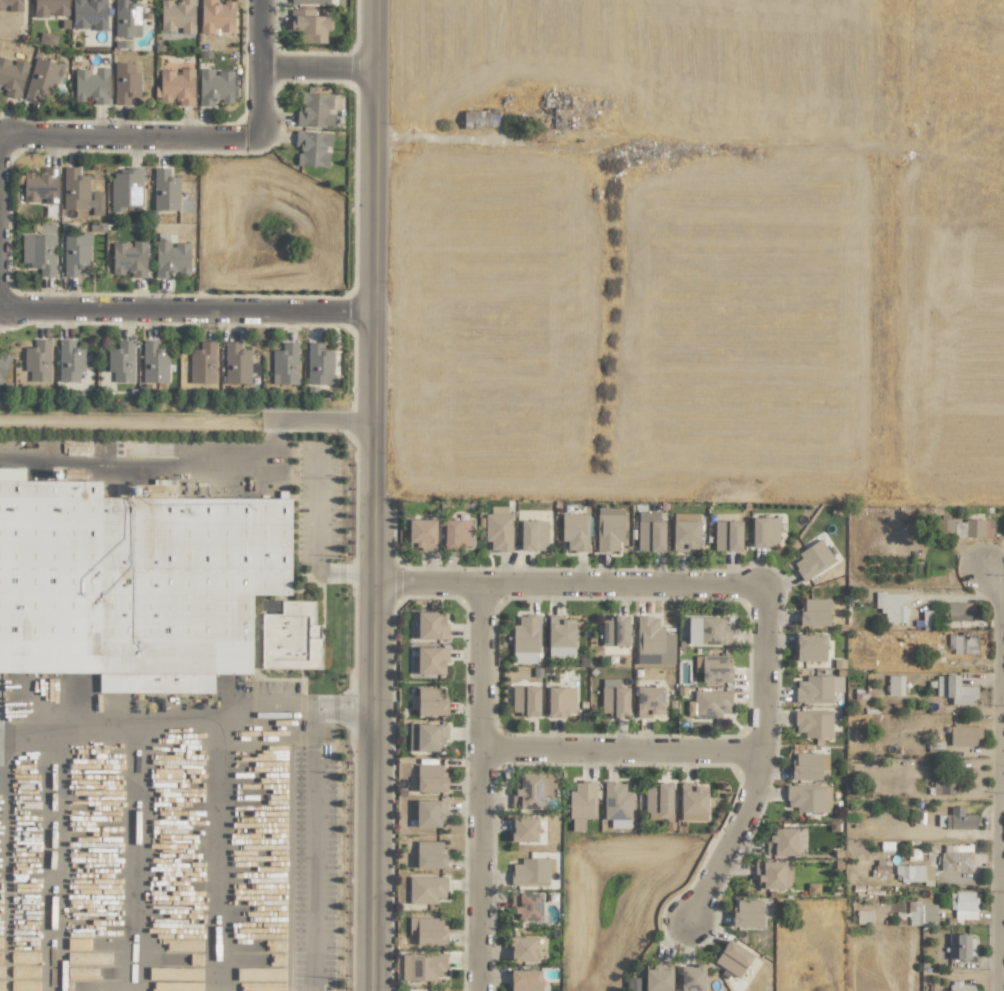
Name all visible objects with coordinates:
building: (11, 5)
building: (50, 8)
building: (89, 14)
building: (177, 15)
building: (216, 16)
building: (126, 19)
building: (309, 25)
building: (47, 39)
road: (261, 63)
road: (318, 70)
building: (12, 76)
building: (42, 79)
building: (126, 82)
building: (91, 85)
building: (215, 86)
building: (176, 87)
building: (315, 110)
building: (478, 119)
road: (128, 135)
building: (312, 148)
building: (40, 185)
building: (126, 188)
building: (164, 190)
building: (80, 192)
building: (39, 253)
building: (76, 253)
building: (129, 258)
building: (170, 259)
road: (183, 308)
building: (37, 360)
building: (69, 360)
building: (121, 362)
building: (154, 362)
building: (202, 363)
building: (236, 363)
building: (284, 364)
building: (3, 365)
building: (319, 365)
road: (315, 419)
road: (147, 466)
road: (368, 495)
road: (317, 502)
building: (949, 527)
building: (978, 528)
building: (498, 529)
building: (609, 529)
building: (574, 531)
building: (650, 531)
building: (764, 531)
building: (422, 533)
building: (457, 533)
building: (532, 535)
building: (727, 535)
building: (685, 536)
building: (811, 560)
road: (354, 572)
building: (134, 581)
road: (565, 586)
building: (892, 607)
building: (958, 611)
building: (814, 613)
building: (927, 617)
building: (430, 626)
building: (614, 631)
building: (707, 631)
building: (291, 637)
building: (560, 638)
building: (525, 640)
building: (653, 641)
building: (962, 644)
building: (810, 647)
building: (430, 660)
road: (766, 668)
building: (894, 685)
building: (817, 689)
building: (954, 690)
building: (525, 700)
building: (560, 701)
building: (614, 701)
building: (648, 701)
building: (431, 702)
building: (709, 705)
road: (192, 713)
road: (349, 713)
building: (813, 723)
building: (426, 736)
building: (964, 736)
road: (623, 750)
building: (808, 766)
road: (999, 767)
building: (430, 778)
building: (943, 787)
road: (482, 788)
building: (532, 790)
building: (658, 798)
building: (808, 798)
building: (582, 801)
building: (692, 802)
building: (616, 805)
building: (429, 813)
building: (956, 819)
building: (523, 829)
road: (736, 838)
building: (781, 842)
road: (312, 852)
building: (429, 854)
road: (52, 858)
building: (956, 858)
building: (530, 872)
building: (911, 873)
building: (772, 875)
building: (426, 889)
building: (963, 905)
building: (526, 906)
building: (747, 913)
building: (921, 913)
building: (864, 917)
building: (426, 930)
building: (960, 946)
building: (522, 949)
building: (732, 958)
building: (657, 977)
building: (691, 978)
building: (524, 980)
building: (959, 986)

